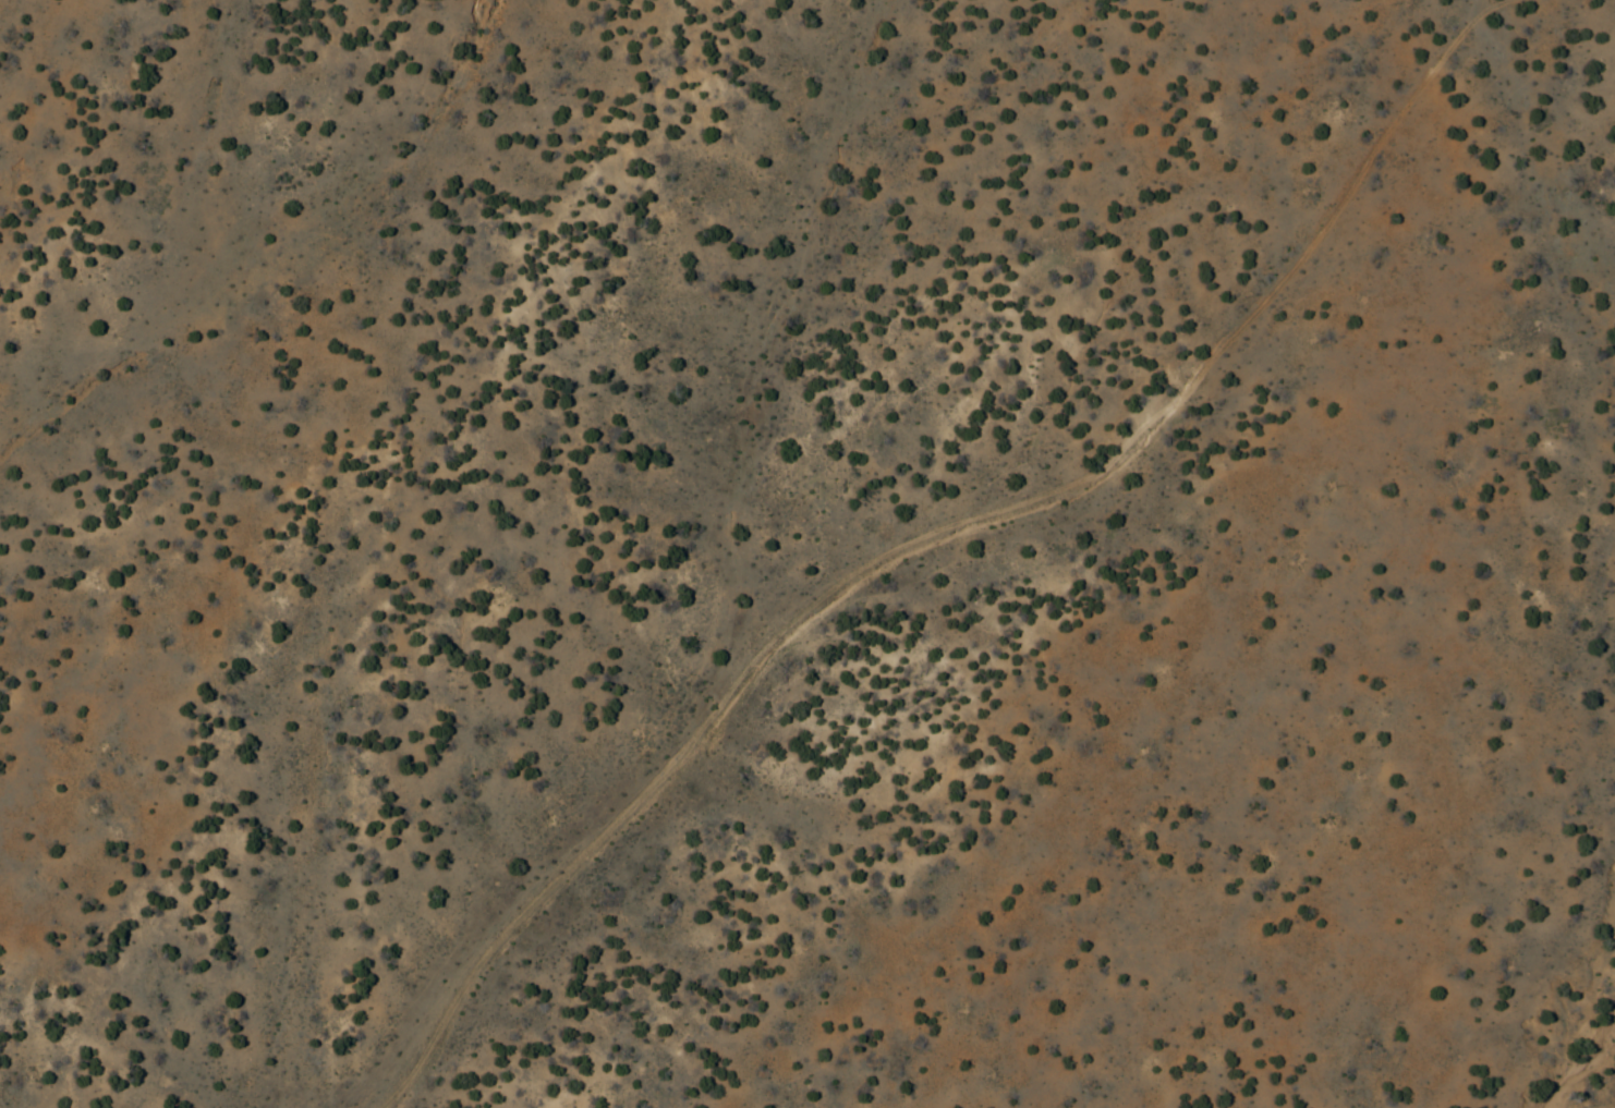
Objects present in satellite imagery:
road: (1503, 3)
road: (925, 558)

